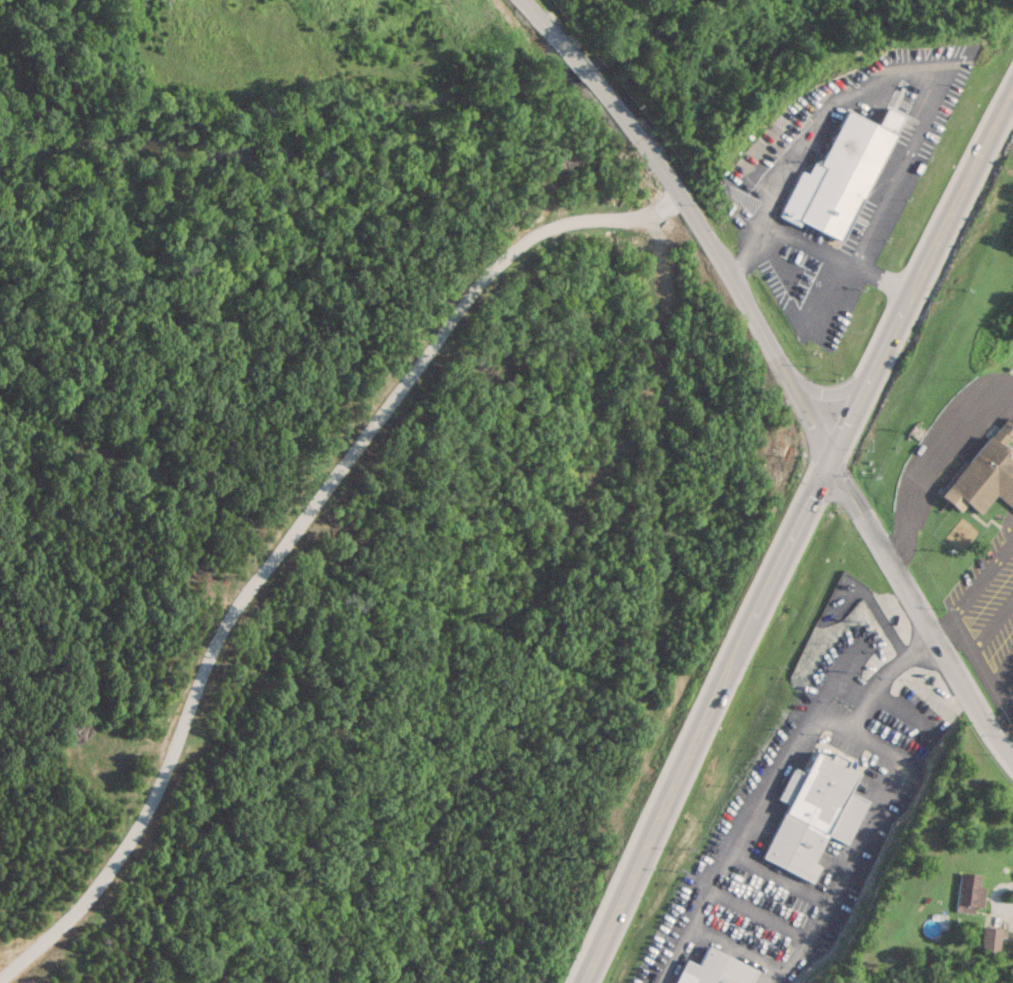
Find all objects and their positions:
road: (572, 60)
building: (838, 178)
road: (813, 249)
road: (733, 287)
road: (828, 393)
road: (927, 457)
traffic signals: (832, 461)
building: (986, 471)
road: (794, 534)
road: (973, 590)
road: (918, 614)
road: (886, 675)
road: (985, 679)
building: (815, 814)
road: (741, 826)
road: (865, 846)
road: (779, 876)
building: (968, 893)
road: (994, 896)
road: (758, 912)
building: (989, 941)
road: (739, 948)
building: (716, 970)

